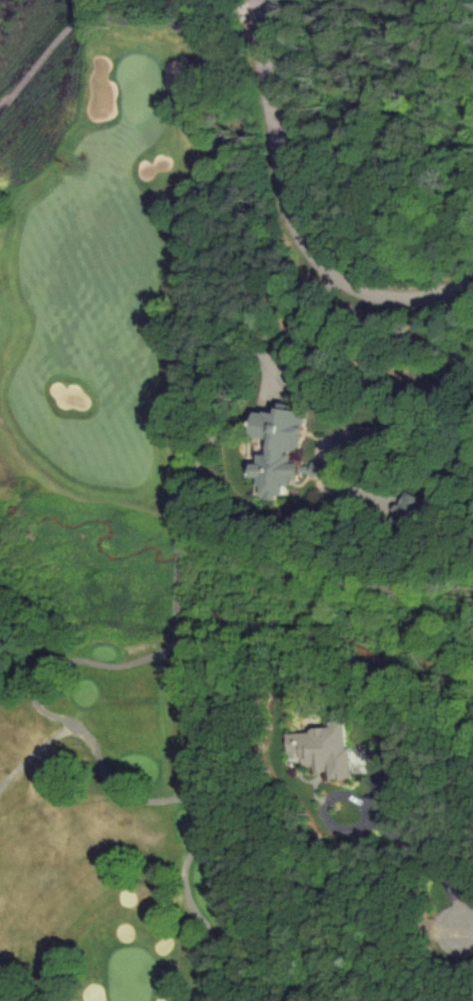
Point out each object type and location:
road: (290, 218)
road: (278, 319)
building: (276, 447)
road: (432, 466)
road: (181, 501)
building: (412, 506)
park: (122, 514)
road: (36, 748)
building: (321, 748)
road: (399, 845)
road: (463, 929)

